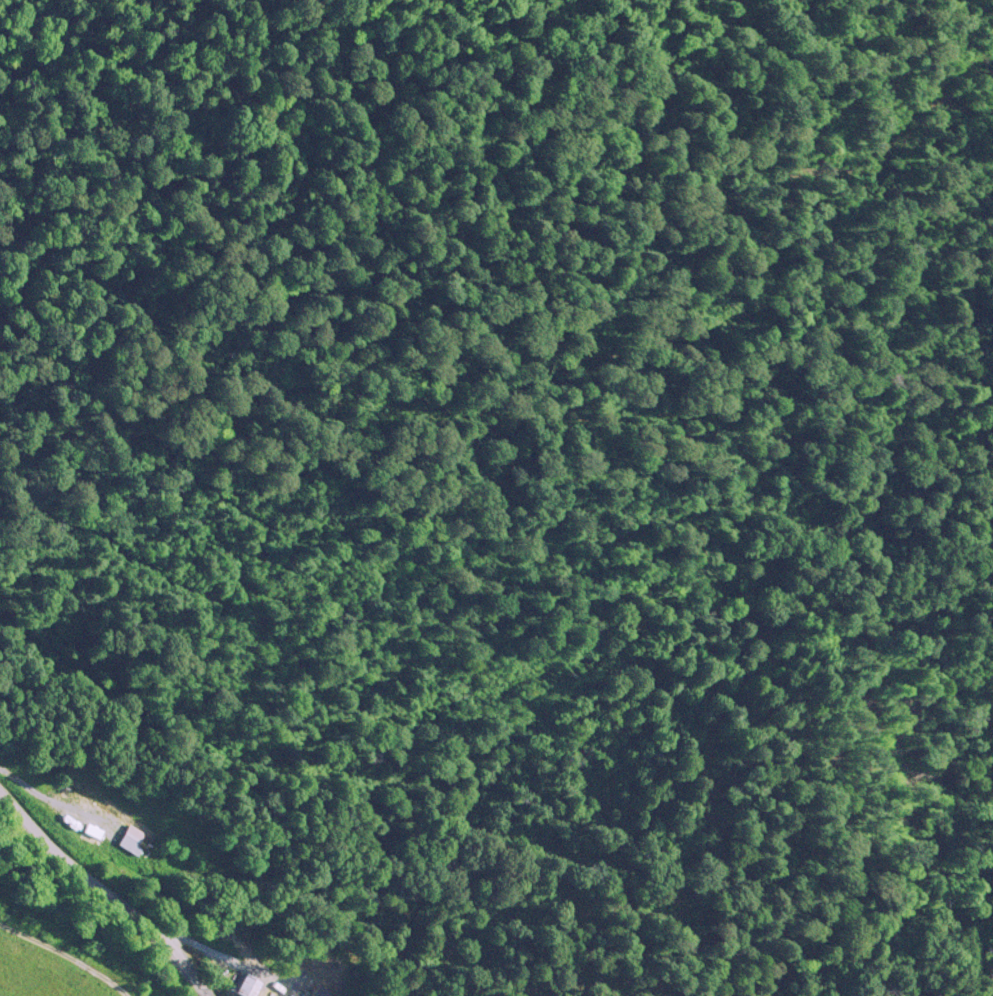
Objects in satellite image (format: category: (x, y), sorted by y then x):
building: (81, 806)
road: (108, 888)
road: (205, 944)
railway: (78, 945)
road: (68, 953)

